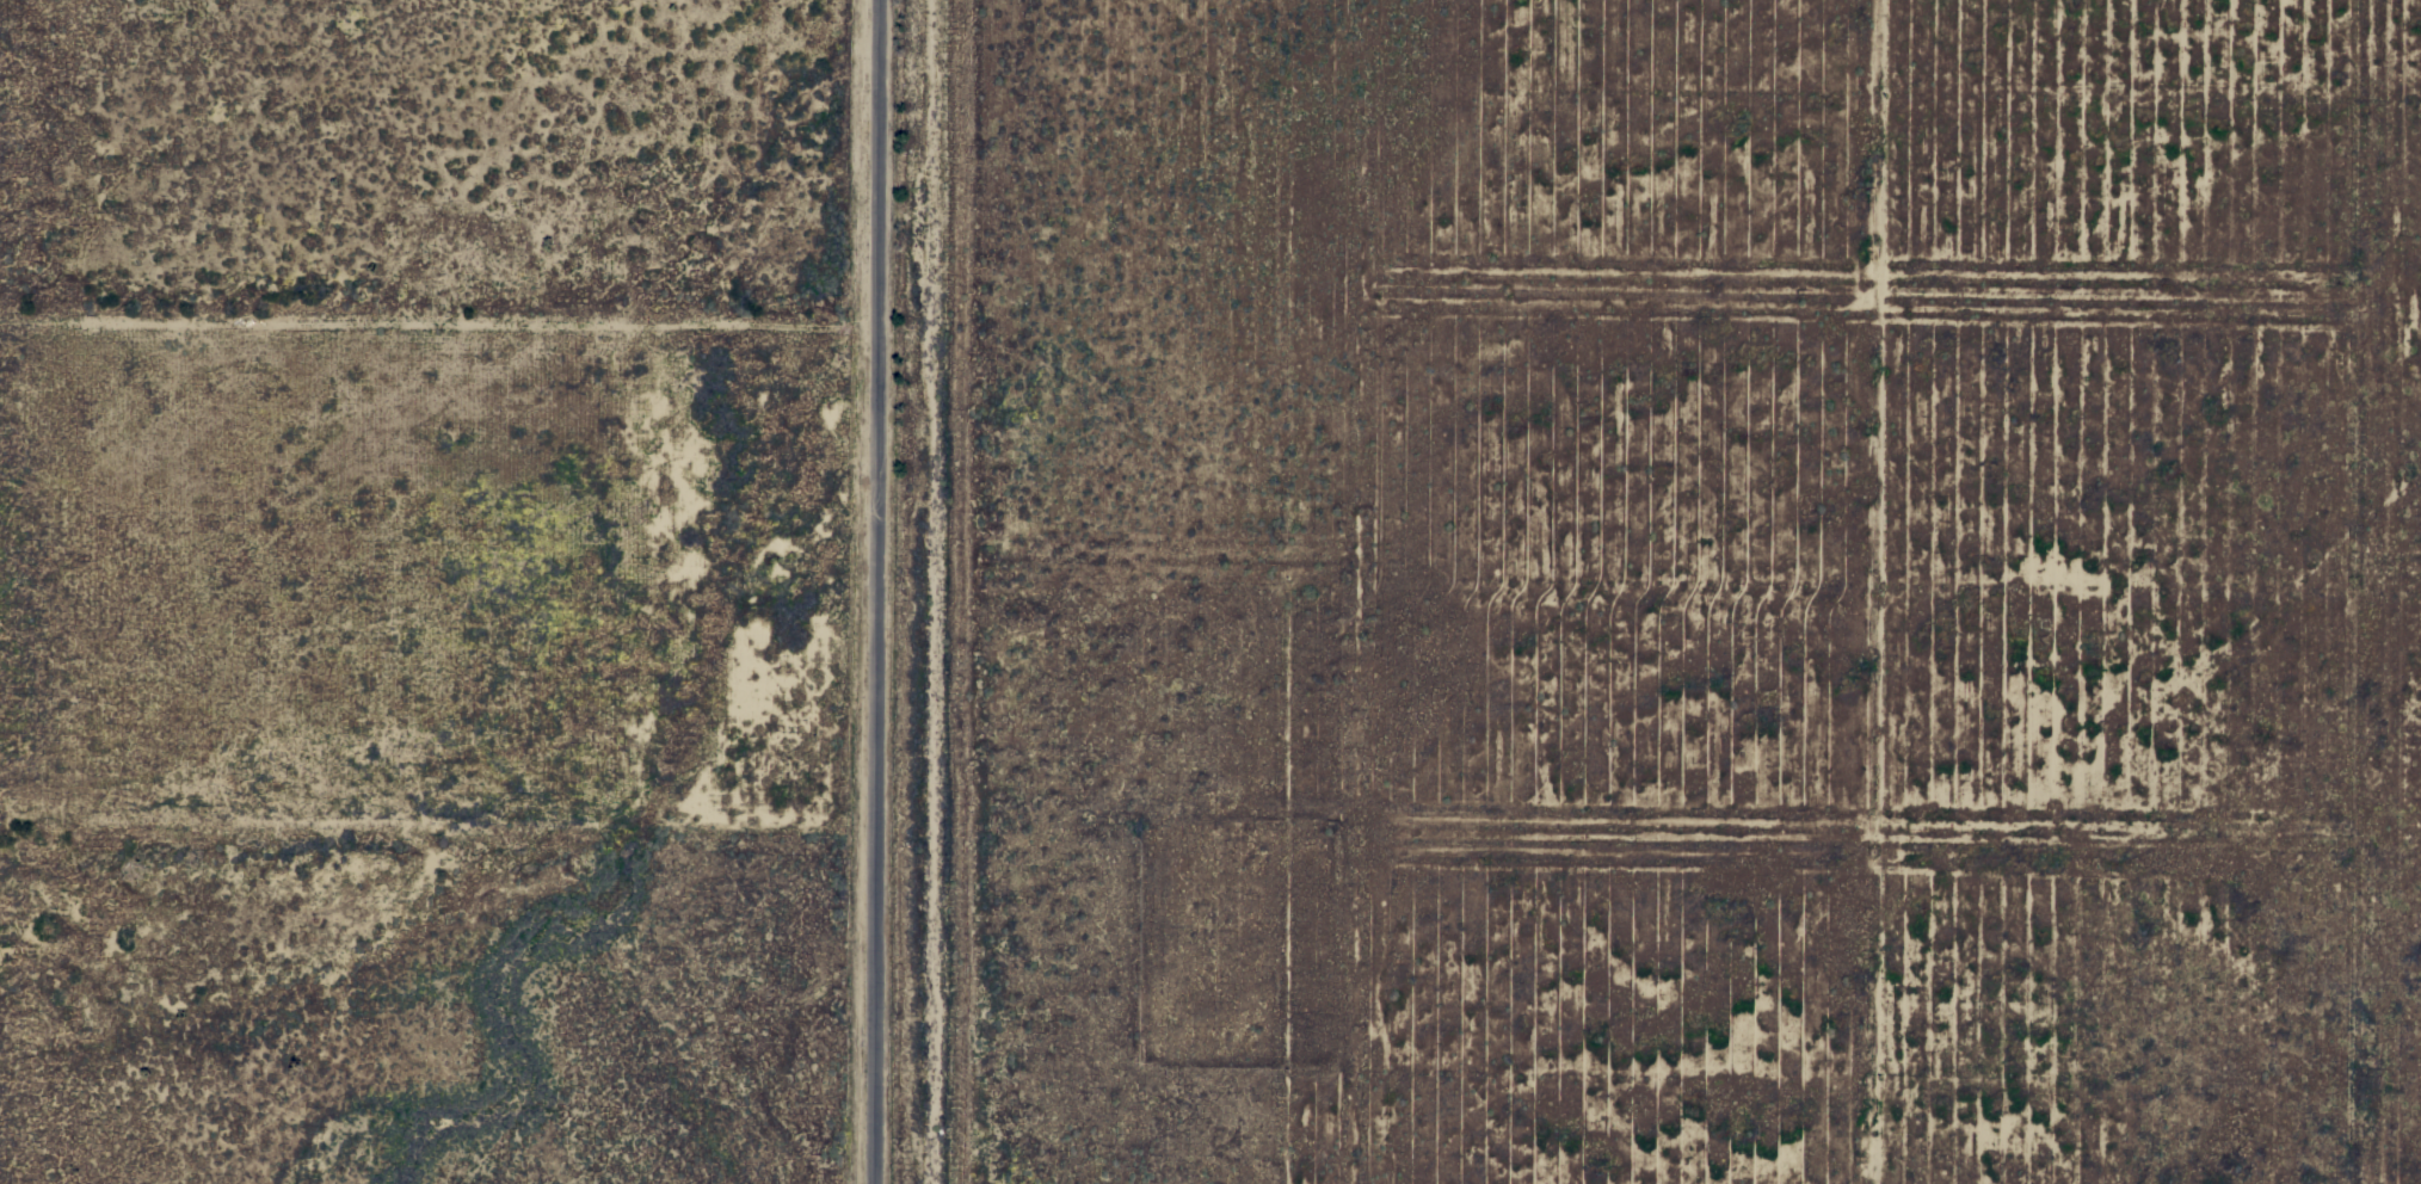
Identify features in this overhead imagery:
crop: (430, 584)
road: (869, 591)
road: (936, 592)

